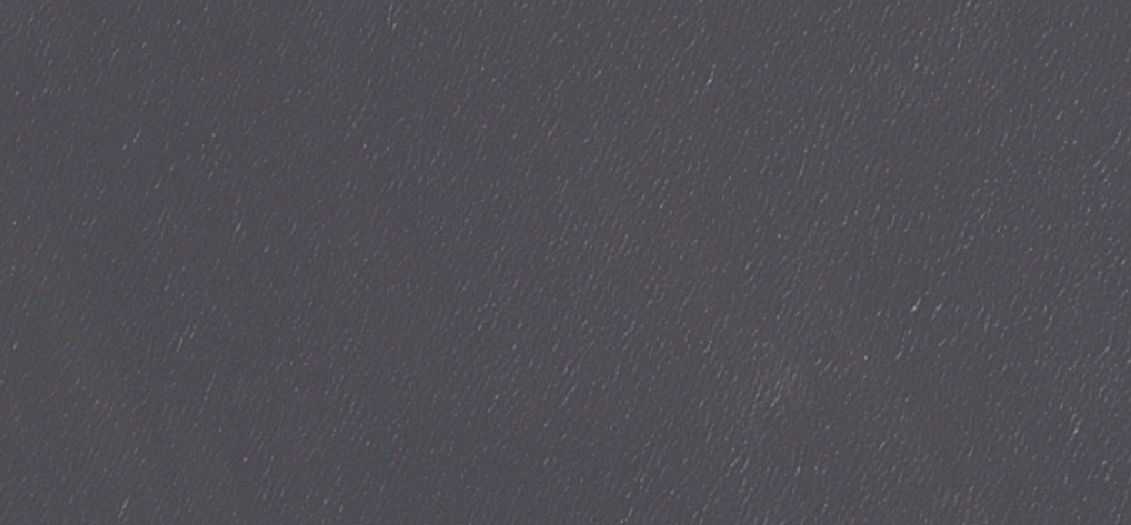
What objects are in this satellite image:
river: (778, 14)
river: (895, 245)
river: (1027, 493)

